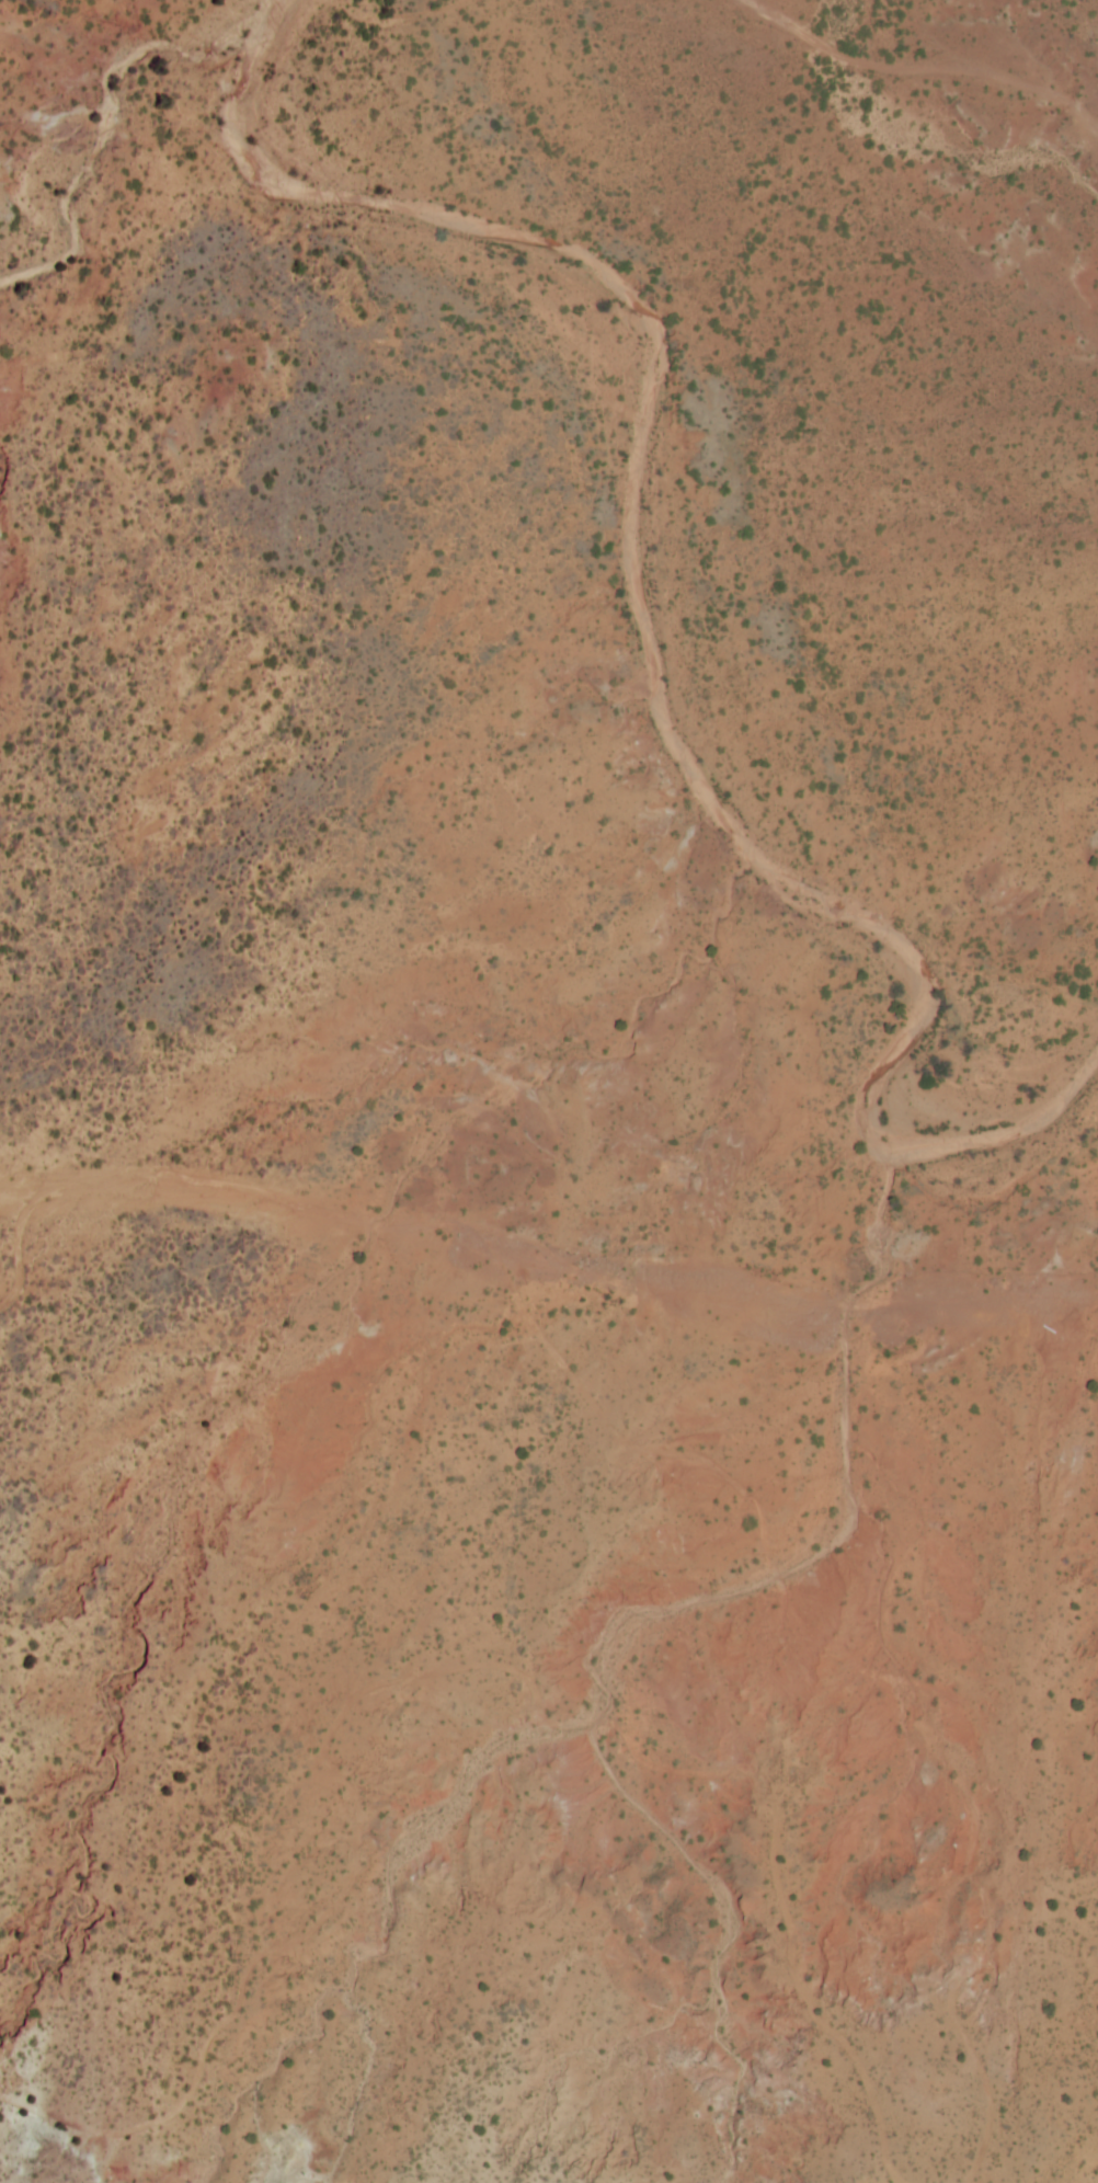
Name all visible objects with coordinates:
road: (906, 72)

